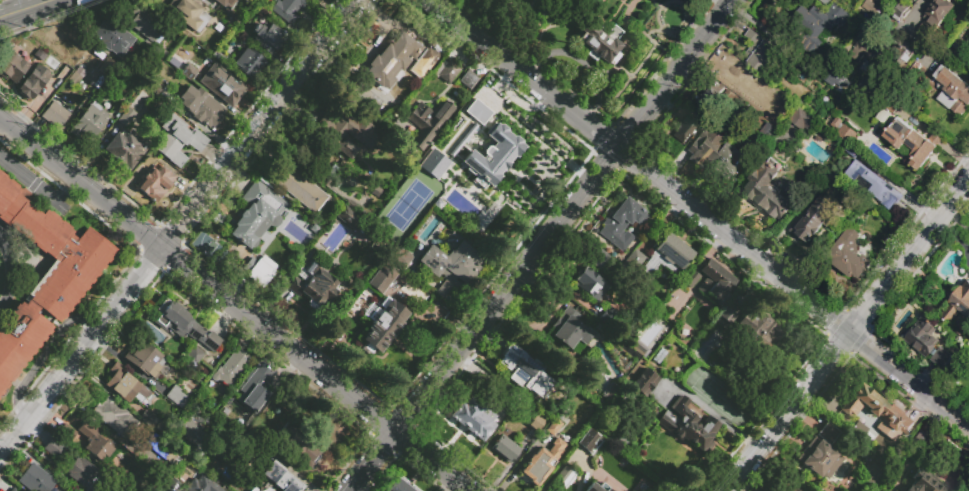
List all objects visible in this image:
parking lot: (693, 0)
road: (532, 1)
road: (653, 1)
building: (916, 1)
road: (464, 2)
road: (666, 2)
building: (827, 2)
road: (654, 3)
road: (724, 3)
building: (228, 4)
road: (472, 4)
road: (625, 4)
road: (584, 6)
building: (871, 8)
road: (25, 9)
building: (287, 9)
road: (565, 10)
road: (916, 11)
building: (901, 13)
building: (186, 14)
road: (526, 14)
road: (463, 16)
road: (481, 18)
road: (520, 18)
building: (935, 18)
road: (603, 21)
building: (231, 22)
road: (551, 24)
building: (146, 26)
building: (819, 27)
building: (225, 31)
building: (241, 33)
building: (112, 37)
building: (268, 37)
road: (622, 37)
building: (600, 43)
building: (863, 48)
building: (76, 51)
building: (758, 51)
building: (37, 52)
building: (903, 52)
building: (160, 54)
building: (222, 54)
building: (964, 56)
building: (427, 57)
building: (391, 58)
building: (768, 61)
road: (581, 62)
road: (653, 62)
building: (249, 64)
building: (11, 67)
building: (108, 70)
road: (623, 70)
building: (188, 71)
building: (446, 71)
building: (870, 71)
road: (632, 72)
road: (606, 74)
building: (729, 76)
building: (466, 79)
building: (835, 79)
building: (32, 82)
building: (222, 84)
building: (157, 86)
building: (952, 92)
building: (712, 98)
building: (768, 101)
building: (852, 101)
building: (201, 107)
building: (476, 111)
building: (54, 114)
building: (125, 116)
road: (0, 119)
building: (803, 121)
building: (88, 122)
building: (429, 123)
building: (684, 128)
building: (843, 131)
building: (330, 136)
building: (178, 140)
building: (912, 143)
building: (708, 144)
building: (125, 149)
building: (491, 157)
building: (820, 159)
building: (729, 162)
building: (433, 167)
building: (332, 170)
building: (153, 184)
building: (871, 185)
road: (36, 186)
building: (299, 187)
building: (767, 189)
road: (56, 202)
building: (819, 210)
road: (698, 211)
building: (257, 214)
building: (347, 215)
road: (566, 217)
building: (622, 223)
road: (181, 226)
building: (313, 228)
building: (53, 250)
building: (668, 255)
building: (848, 255)
building: (594, 257)
building: (402, 258)
building: (633, 263)
building: (451, 267)
building: (260, 270)
road: (10, 275)
road: (197, 275)
building: (382, 278)
building: (693, 280)
building: (715, 283)
building: (590, 284)
building: (311, 285)
building: (957, 305)
building: (607, 315)
building: (724, 319)
building: (381, 324)
building: (184, 326)
building: (569, 329)
building: (757, 332)
road: (846, 334)
building: (923, 337)
building: (18, 338)
building: (639, 349)
building: (658, 355)
road: (43, 356)
building: (191, 357)
building: (143, 358)
building: (942, 358)
building: (230, 367)
building: (523, 371)
building: (597, 379)
building: (644, 382)
building: (125, 384)
building: (255, 388)
building: (608, 391)
building: (175, 396)
building: (509, 399)
building: (875, 408)
building: (114, 417)
building: (468, 418)
building: (149, 420)
building: (535, 423)
building: (553, 426)
building: (687, 426)
building: (191, 427)
building: (68, 432)
building: (920, 438)
building: (590, 442)
building: (96, 444)
building: (924, 445)
building: (298, 447)
building: (55, 449)
building: (504, 449)
building: (161, 450)
building: (820, 452)
road: (432, 461)
road: (372, 462)
building: (541, 464)
building: (224, 472)
building: (280, 475)
building: (872, 475)
building: (564, 476)
building: (88, 477)
building: (34, 479)
building: (923, 482)
building: (201, 483)
building: (398, 484)
building: (172, 485)
building: (772, 486)
building: (596, 487)
building: (9, 488)
building: (792, 489)
building: (259, 490)

